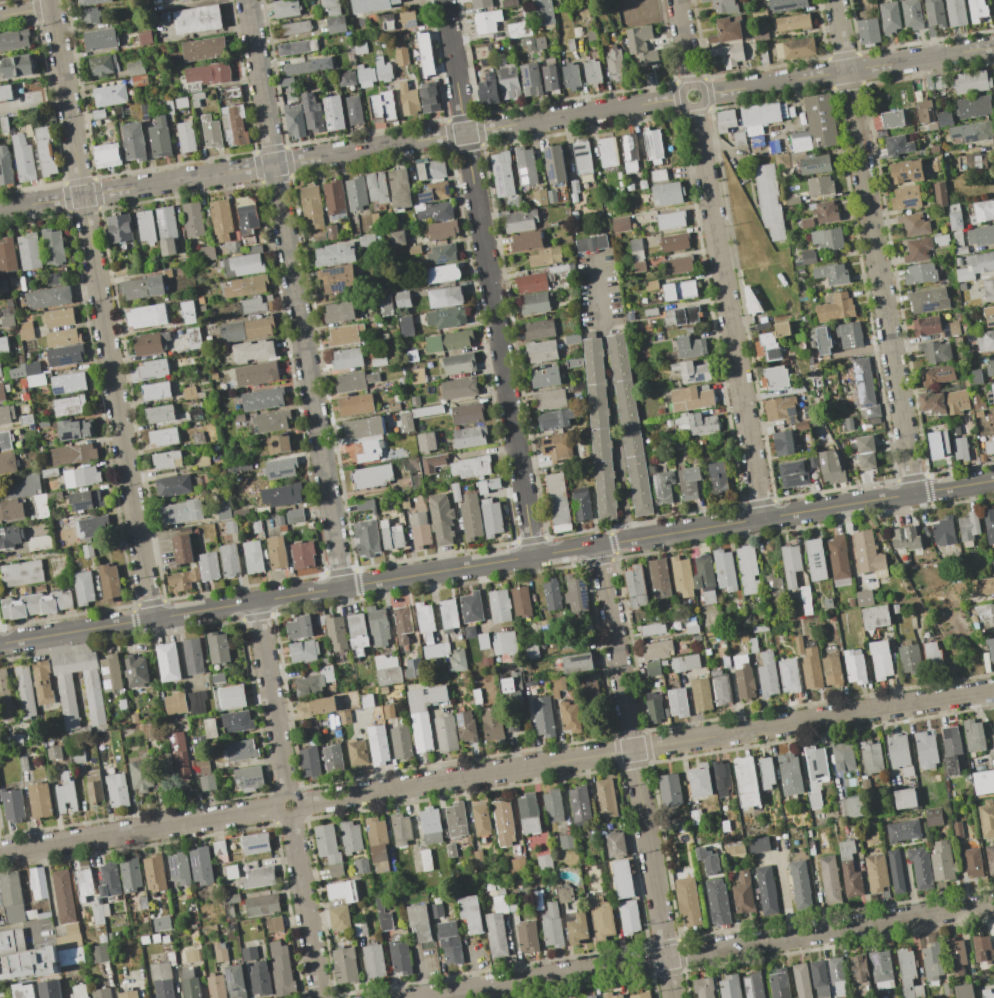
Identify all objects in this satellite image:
building: (181, 0)
building: (702, 0)
building: (90, 2)
building: (507, 2)
building: (480, 3)
building: (370, 4)
building: (785, 4)
building: (330, 6)
building: (722, 6)
rooftop solar panel: (785, 7)
building: (285, 8)
road: (25, 10)
building: (977, 11)
building: (955, 12)
building: (543, 13)
building: (758, 13)
building: (911, 14)
building: (90, 15)
building: (933, 15)
building: (888, 17)
building: (196, 19)
building: (398, 20)
building: (486, 20)
building: (792, 21)
building: (336, 23)
rooftop solar panel: (413, 24)
building: (292, 28)
building: (518, 28)
building: (727, 29)
building: (867, 31)
building: (760, 34)
building: (99, 38)
building: (144, 38)
building: (603, 38)
building: (14, 39)
building: (539, 41)
road: (682, 42)
building: (526, 43)
building: (569, 43)
building: (640, 43)
building: (296, 47)
building: (359, 47)
building: (203, 48)
building: (794, 48)
building: (425, 53)
building: (727, 53)
building: (762, 57)
building: (102, 65)
building: (307, 65)
building: (615, 65)
building: (16, 66)
building: (135, 67)
building: (382, 69)
road: (847, 70)
building: (591, 72)
building: (208, 73)
rooftop solar panel: (526, 74)
building: (364, 75)
building: (569, 75)
building: (345, 78)
building: (549, 78)
building: (529, 79)
building: (138, 80)
building: (507, 80)
building: (285, 81)
building: (939, 81)
building: (970, 82)
rooftop solar panel: (527, 84)
building: (194, 87)
building: (488, 89)
building: (232, 91)
road: (701, 91)
building: (5, 92)
building: (112, 94)
road: (65, 97)
building: (428, 97)
building: (196, 98)
building: (407, 98)
building: (181, 103)
rooftop solar panel: (326, 103)
building: (381, 106)
building: (973, 106)
building: (169, 108)
building: (352, 109)
building: (144, 110)
building: (924, 111)
building: (118, 112)
building: (312, 112)
rooftop solar panel: (328, 113)
building: (333, 113)
building: (98, 114)
building: (758, 116)
building: (892, 118)
building: (943, 118)
building: (724, 119)
building: (294, 120)
rooftop solar panel: (330, 121)
building: (815, 124)
building: (3, 125)
building: (234, 125)
building: (932, 126)
rooftop solar panel: (330, 128)
building: (27, 130)
building: (210, 131)
building: (971, 131)
rooftop solar panel: (956, 136)
building: (185, 137)
building: (159, 138)
building: (738, 138)
rooftop solar panel: (971, 138)
building: (132, 141)
road: (718, 142)
building: (652, 145)
building: (897, 145)
road: (381, 147)
rooftop solar panel: (579, 148)
building: (44, 150)
building: (606, 151)
building: (628, 151)
rooftop solar panel: (549, 154)
building: (106, 155)
rooftop solar panel: (581, 155)
building: (581, 156)
building: (23, 158)
building: (781, 161)
building: (813, 163)
building: (971, 163)
building: (935, 164)
building: (524, 165)
building: (554, 165)
building: (5, 167)
building: (430, 169)
rooftop solar panel: (523, 171)
building: (905, 171)
building: (502, 173)
building: (657, 174)
rooftop solar panel: (552, 175)
rooftop solar panel: (904, 176)
rooftop solar panel: (917, 177)
rooftop solar panel: (524, 181)
building: (642, 183)
building: (629, 185)
building: (819, 185)
building: (376, 186)
building: (399, 188)
rooftop solar panel: (447, 190)
building: (573, 190)
building: (355, 192)
building: (434, 192)
building: (665, 193)
building: (939, 194)
building: (551, 195)
building: (332, 196)
rooftop solar panel: (424, 197)
building: (538, 197)
building: (904, 198)
building: (790, 199)
building: (768, 200)
building: (517, 201)
road: (40, 202)
rooftop solar panel: (425, 202)
rooftop solar panel: (910, 203)
building: (311, 204)
building: (436, 211)
building: (824, 211)
building: (982, 211)
building: (246, 214)
building: (574, 215)
building: (954, 216)
building: (374, 217)
building: (191, 218)
rooftop solar panel: (161, 219)
building: (220, 219)
building: (518, 219)
building: (670, 219)
building: (620, 223)
building: (806, 223)
building: (912, 223)
building: (146, 226)
building: (119, 227)
building: (166, 229)
building: (441, 229)
building: (331, 232)
building: (318, 235)
building: (980, 235)
building: (397, 237)
building: (366, 239)
building: (827, 239)
building: (941, 239)
building: (525, 240)
building: (674, 241)
building: (590, 243)
building: (635, 243)
building: (958, 243)
building: (52, 246)
road: (873, 246)
building: (232, 247)
building: (414, 249)
building: (917, 249)
building: (29, 251)
building: (206, 252)
building: (441, 253)
building: (7, 254)
building: (334, 254)
building: (636, 254)
building: (545, 256)
building: (807, 256)
rooftop solar panel: (443, 261)
building: (958, 261)
building: (243, 262)
building: (677, 264)
building: (975, 265)
building: (638, 266)
building: (557, 268)
building: (119, 270)
rooftop solar panel: (335, 272)
building: (442, 273)
building: (831, 273)
building: (920, 273)
road: (487, 277)
building: (337, 278)
building: (52, 279)
building: (531, 282)
building: (24, 283)
building: (650, 284)
building: (142, 286)
building: (245, 286)
rooftop solar panel: (340, 288)
building: (679, 289)
building: (987, 289)
road: (295, 293)
building: (445, 296)
building: (47, 297)
building: (402, 299)
building: (927, 300)
building: (750, 301)
building: (534, 303)
building: (255, 304)
building: (385, 306)
building: (834, 307)
building: (7, 308)
building: (188, 311)
building: (338, 311)
building: (650, 312)
road: (726, 312)
building: (628, 315)
building: (680, 315)
building: (988, 315)
building: (146, 316)
building: (57, 317)
building: (446, 317)
building: (6, 321)
building: (761, 323)
building: (934, 327)
building: (25, 329)
building: (245, 329)
building: (539, 329)
building: (689, 329)
building: (780, 329)
building: (405, 331)
building: (344, 334)
building: (848, 334)
building: (62, 337)
building: (193, 338)
building: (571, 338)
building: (823, 339)
building: (958, 340)
building: (985, 340)
building: (448, 341)
building: (150, 342)
building: (3, 344)
building: (689, 346)
building: (766, 346)
building: (252, 350)
building: (541, 350)
building: (934, 351)
building: (64, 354)
rooftop solar panel: (774, 354)
building: (411, 355)
building: (346, 358)
building: (378, 361)
rooftop solar panel: (66, 362)
building: (572, 362)
building: (459, 363)
building: (991, 364)
building: (32, 367)
building: (17, 368)
building: (152, 368)
rooftop solar panel: (857, 369)
building: (692, 371)
building: (0, 373)
building: (256, 373)
building: (937, 374)
rooftop solar panel: (943, 374)
building: (417, 375)
building: (544, 376)
building: (974, 376)
building: (773, 377)
building: (36, 379)
building: (354, 380)
building: (68, 382)
building: (574, 386)
building: (458, 388)
building: (796, 388)
building: (23, 389)
rooftop solar panel: (58, 390)
building: (155, 390)
building: (863, 390)
building: (1, 391)
building: (188, 392)
rooftop solar panel: (861, 393)
building: (991, 394)
rooftop solar panel: (991, 396)
road: (611, 397)
building: (690, 397)
building: (262, 398)
building: (549, 399)
building: (414, 401)
building: (956, 401)
building: (931, 402)
building: (977, 402)
rooftop solar panel: (990, 402)
building: (69, 404)
building: (354, 404)
road: (115, 406)
building: (392, 407)
building: (779, 408)
building: (426, 410)
building: (809, 412)
building: (6, 413)
building: (159, 413)
building: (466, 413)
rooftop solar panel: (791, 413)
building: (978, 413)
building: (194, 414)
building: (993, 414)
building: (239, 417)
building: (554, 418)
building: (25, 419)
rooftop solar panel: (792, 419)
building: (271, 420)
building: (405, 421)
building: (696, 422)
building: (977, 422)
building: (628, 423)
building: (43, 424)
building: (848, 424)
building: (801, 425)
building: (361, 427)
building: (598, 427)
building: (72, 429)
building: (954, 430)
building: (162, 436)
building: (468, 436)
rooftop solar panel: (68, 437)
building: (197, 437)
rooftop solar panel: (77, 438)
building: (5, 440)
building: (426, 442)
building: (782, 442)
building: (277, 443)
building: (700, 443)
building: (935, 445)
building: (556, 446)
building: (989, 447)
building: (959, 448)
building: (364, 450)
building: (866, 450)
building: (73, 453)
building: (441, 457)
building: (166, 459)
building: (202, 460)
building: (812, 461)
building: (8, 462)
building: (238, 466)
building: (470, 466)
building: (831, 466)
building: (279, 467)
building: (48, 471)
building: (412, 471)
rooftop solar panel: (285, 472)
building: (792, 474)
building: (370, 475)
building: (80, 476)
rooftop solar panel: (275, 477)
building: (717, 478)
building: (687, 482)
building: (487, 484)
building: (173, 485)
building: (662, 486)
building: (22, 487)
building: (454, 491)
building: (280, 494)
building: (85, 500)
building: (44, 502)
building: (403, 502)
building: (557, 502)
building: (364, 504)
building: (580, 504)
building: (11, 509)
building: (223, 510)
building: (179, 511)
building: (239, 513)
building: (293, 516)
building: (469, 516)
building: (490, 517)
building: (440, 518)
building: (278, 519)
building: (255, 524)
building: (989, 524)
building: (968, 525)
building: (92, 526)
building: (230, 527)
building: (282, 528)
building: (419, 529)
building: (184, 530)
building: (943, 531)
building: (391, 535)
building: (10, 536)
building: (366, 537)
building: (898, 538)
building: (911, 538)
building: (38, 542)
building: (182, 548)
building: (87, 550)
building: (276, 551)
building: (302, 554)
building: (868, 554)
building: (253, 556)
building: (228, 559)
building: (815, 559)
road: (497, 560)
building: (837, 560)
building: (789, 564)
building: (992, 565)
building: (207, 566)
building: (723, 569)
building: (746, 569)
building: (21, 572)
building: (681, 575)
building: (658, 577)
building: (704, 578)
building: (182, 579)
building: (108, 581)
building: (773, 584)
building: (983, 585)
building: (634, 586)
building: (83, 587)
building: (959, 587)
building: (576, 592)
building: (551, 594)
rooftop solar panel: (584, 594)
building: (863, 598)
building: (805, 599)
building: (520, 601)
building: (826, 602)
building: (850, 602)
building: (35, 603)
building: (499, 605)
building: (470, 607)
building: (895, 608)
building: (984, 612)
building: (447, 615)
building: (874, 616)
building: (690, 618)
building: (972, 618)
building: (424, 620)
building: (401, 624)
building: (377, 626)
building: (545, 626)
building: (299, 627)
building: (585, 627)
building: (759, 627)
building: (650, 628)
building: (691, 628)
building: (535, 630)
building: (468, 631)
building: (742, 631)
building: (335, 632)
building: (357, 632)
building: (695, 637)
building: (744, 638)
building: (482, 640)
building: (572, 642)
building: (503, 643)
building: (752, 644)
building: (217, 648)
building: (990, 648)
building: (435, 649)
building: (656, 649)
building: (303, 652)
building: (191, 655)
building: (932, 656)
building: (723, 657)
building: (879, 659)
building: (910, 659)
building: (456, 660)
building: (383, 661)
building: (167, 662)
building: (684, 662)
building: (577, 663)
building: (809, 664)
building: (854, 665)
building: (412, 668)
building: (652, 668)
rooftop solar panel: (106, 670)
building: (136, 670)
building: (832, 670)
building: (110, 672)
building: (766, 674)
building: (788, 674)
building: (387, 675)
building: (743, 677)
building: (217, 678)
building: (312, 681)
building: (42, 683)
building: (91, 683)
rooftop solar panel: (108, 683)
building: (529, 683)
building: (512, 684)
building: (556, 685)
building: (588, 687)
building: (719, 687)
building: (23, 690)
building: (700, 694)
building: (5, 696)
building: (231, 696)
road: (270, 696)
building: (427, 698)
building: (366, 700)
building: (196, 701)
building: (174, 702)
building: (677, 702)
building: (314, 706)
building: (654, 707)
building: (388, 711)
building: (542, 715)
building: (182, 716)
building: (569, 716)
building: (339, 718)
rooftop solar panel: (459, 718)
rooftop solar panel: (467, 719)
building: (235, 721)
rooftop solar panel: (337, 721)
rooftop solar panel: (332, 722)
building: (491, 722)
building: (511, 723)
building: (465, 726)
building: (210, 728)
building: (421, 731)
building: (512, 732)
building: (445, 734)
building: (973, 735)
building: (14, 740)
building: (198, 740)
building: (400, 740)
building: (377, 744)
road: (647, 747)
building: (950, 749)
building: (239, 750)
building: (925, 750)
building: (54, 752)
building: (356, 752)
building: (898, 753)
building: (178, 754)
building: (76, 756)
building: (843, 756)
building: (870, 757)
building: (332, 758)
building: (309, 762)
building: (23, 763)
building: (814, 763)
building: (201, 766)
road: (635, 770)
building: (765, 772)
building: (789, 773)
building: (140, 775)
building: (248, 776)
building: (721, 778)
rooftop solar panel: (250, 780)
building: (699, 780)
building: (745, 781)
building: (983, 781)
building: (206, 782)
building: (864, 783)
building: (93, 787)
building: (669, 789)
building: (117, 790)
building: (925, 791)
building: (605, 798)
building: (904, 798)
building: (65, 799)
building: (813, 799)
building: (39, 801)
building: (12, 804)
building: (578, 804)
building: (552, 805)
building: (851, 806)
road: (295, 814)
building: (528, 814)
building: (694, 814)
building: (933, 817)
building: (986, 818)
building: (455, 819)
building: (480, 819)
building: (503, 822)
building: (675, 823)
building: (429, 824)
building: (399, 829)
building: (957, 829)
building: (902, 830)
road: (138, 831)
building: (592, 834)
building: (349, 837)
building: (566, 841)
building: (254, 843)
building: (325, 843)
building: (377, 843)
building: (614, 844)
building: (758, 844)
rooftop solar panel: (256, 845)
building: (218, 847)
building: (450, 850)
building: (733, 850)
building: (478, 858)
building: (990, 858)
building: (425, 860)
building: (707, 860)
building: (942, 861)
rooftop solar panel: (172, 862)
building: (543, 862)
building: (972, 862)
building: (517, 863)
building: (360, 865)
building: (200, 866)
building: (178, 867)
building: (920, 867)
building: (335, 870)
building: (848, 870)
building: (895, 870)
building: (230, 871)
building: (154, 872)
rooftop solar panel: (174, 872)
building: (875, 872)
building: (129, 874)
building: (258, 877)
building: (621, 878)
building: (108, 880)
building: (829, 880)
building: (37, 882)
building: (82, 883)
building: (800, 884)
building: (765, 889)
building: (341, 891)
building: (742, 893)
building: (563, 895)
building: (62, 896)
building: (11, 897)
building: (228, 898)
building: (536, 899)
building: (687, 900)
building: (717, 902)
building: (142, 903)
building: (261, 904)
building: (511, 904)
road: (305, 907)
building: (435, 910)
building: (228, 912)
building: (29, 913)
building: (98, 913)
building: (470, 913)
building: (42, 914)
building: (382, 916)
building: (627, 916)
building: (600, 917)
building: (338, 918)
building: (418, 921)
building: (160, 923)
road: (23, 924)
building: (273, 924)
building: (551, 925)
building: (576, 926)
building: (358, 927)
building: (496, 927)
building: (116, 935)
building: (109, 936)
building: (527, 936)
building: (11, 940)
building: (454, 941)
building: (69, 945)
building: (981, 948)
road: (706, 949)
building: (219, 952)
building: (98, 953)
building: (248, 953)
building: (191, 955)
building: (957, 956)
building: (399, 957)
rooftop solar panel: (875, 959)
building: (373, 960)
building: (932, 961)
building: (29, 962)
building: (344, 965)
building: (280, 969)
building: (881, 969)
building: (859, 973)
building: (836, 974)
rooftop solar panel: (228, 975)
building: (908, 975)
building: (259, 978)
building: (818, 978)
building: (161, 979)
building: (801, 980)
building: (234, 981)
building: (189, 984)
building: (753, 985)
building: (779, 985)
building: (215, 986)
building: (729, 986)
building: (704, 987)
rooftop solar panel: (750, 988)
building: (49, 989)
building: (22, 990)
building: (79, 991)
building: (963, 991)
building: (101, 992)
building: (127, 993)
building: (986, 993)
building: (610, 995)
building: (640, 995)
building: (590, 996)

